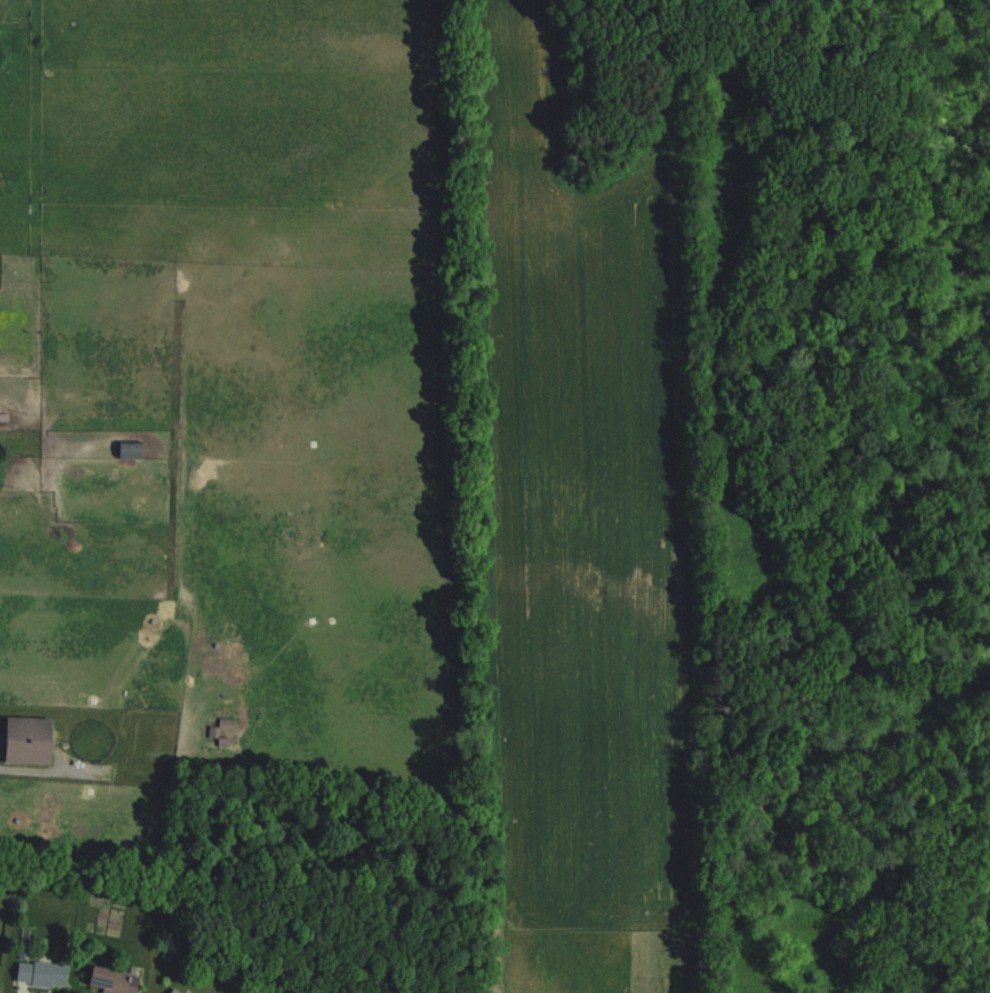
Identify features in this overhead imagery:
building: (129, 450)
building: (28, 733)
building: (45, 974)
building: (119, 980)
building: (178, 990)

